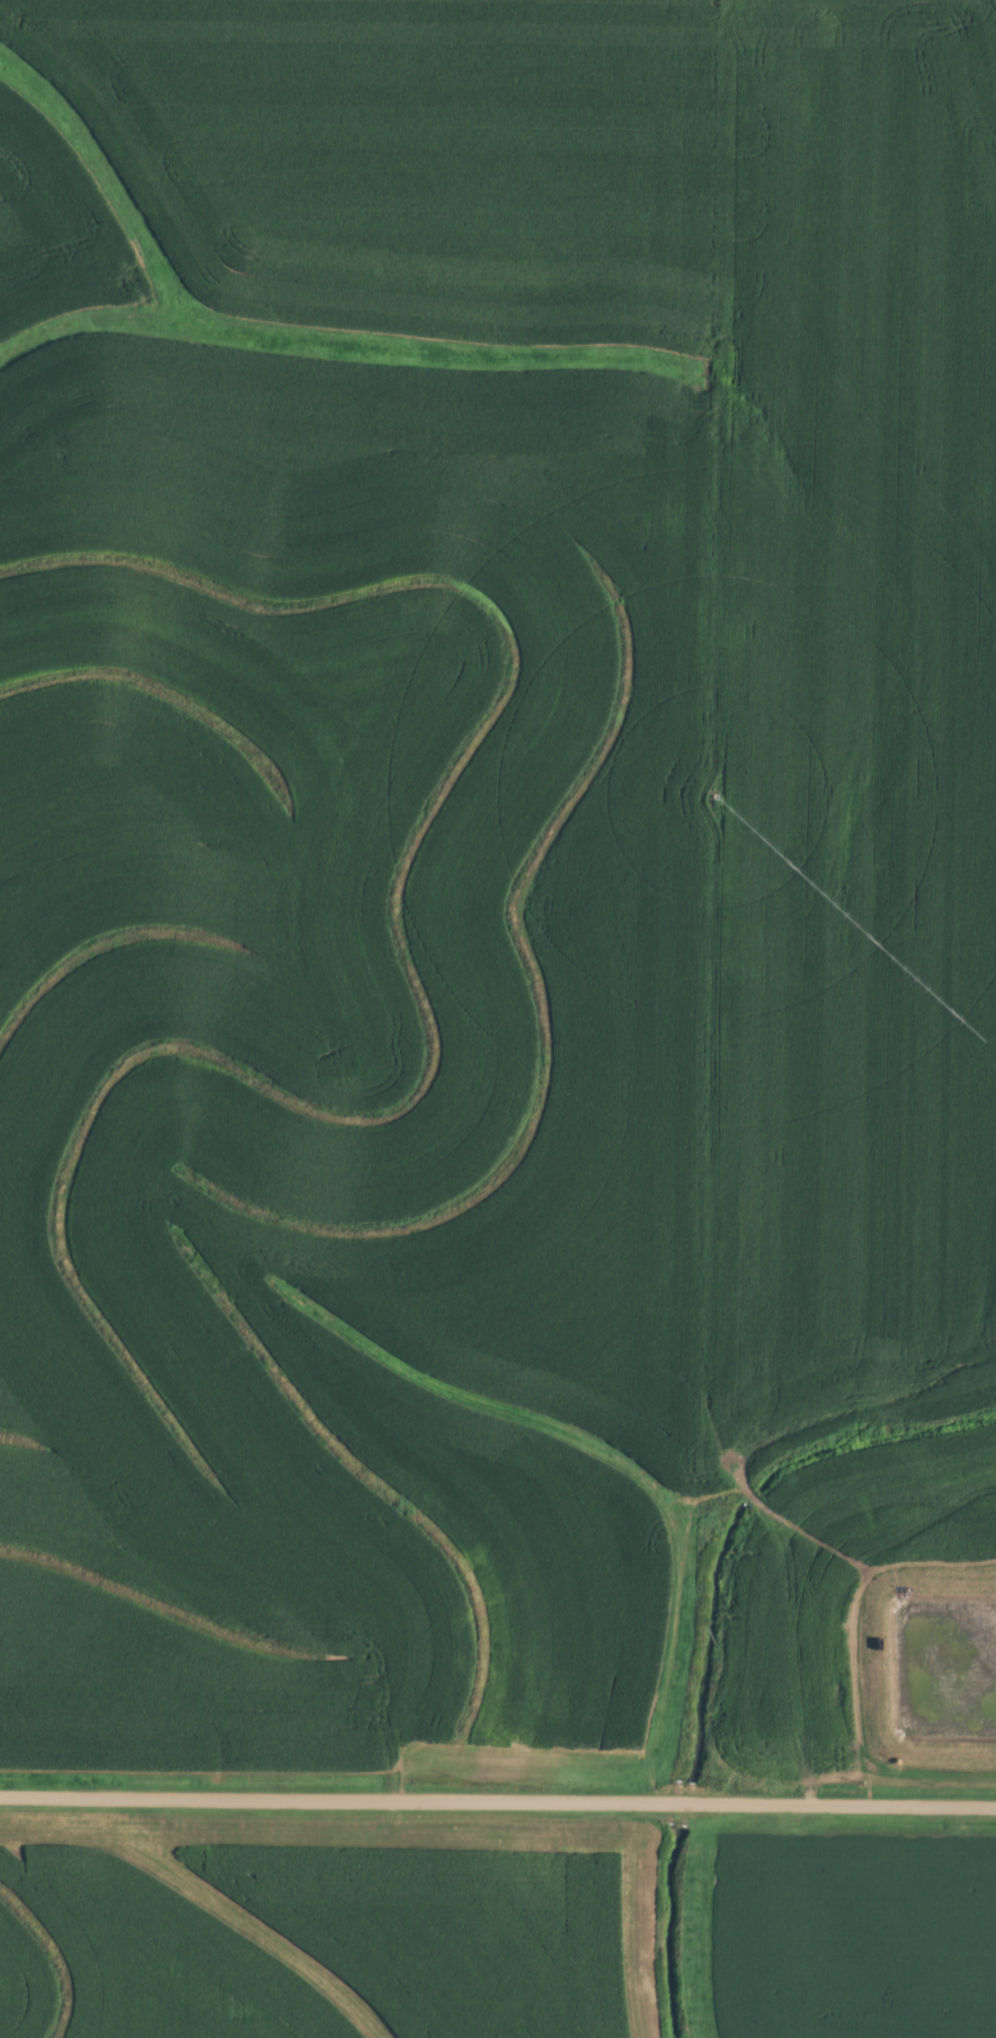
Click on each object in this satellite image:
road: (498, 1803)

